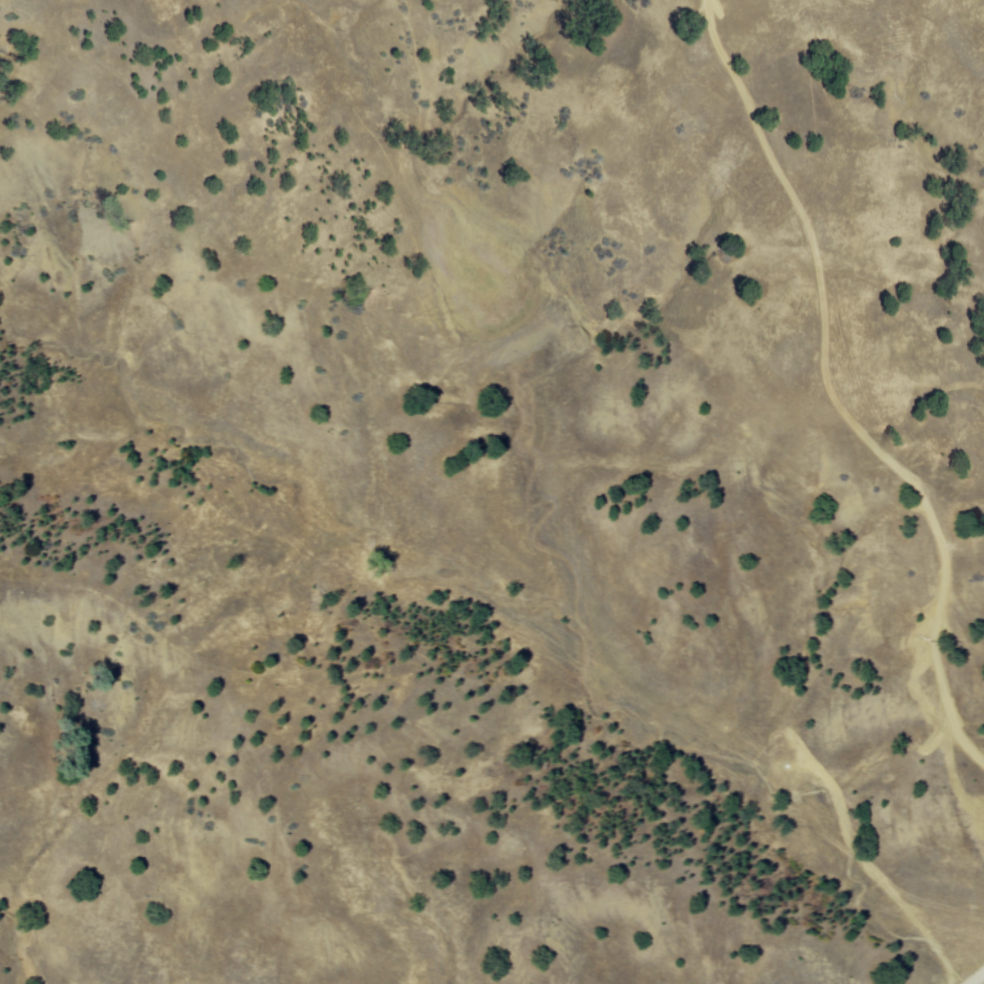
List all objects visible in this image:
road: (981, 981)

